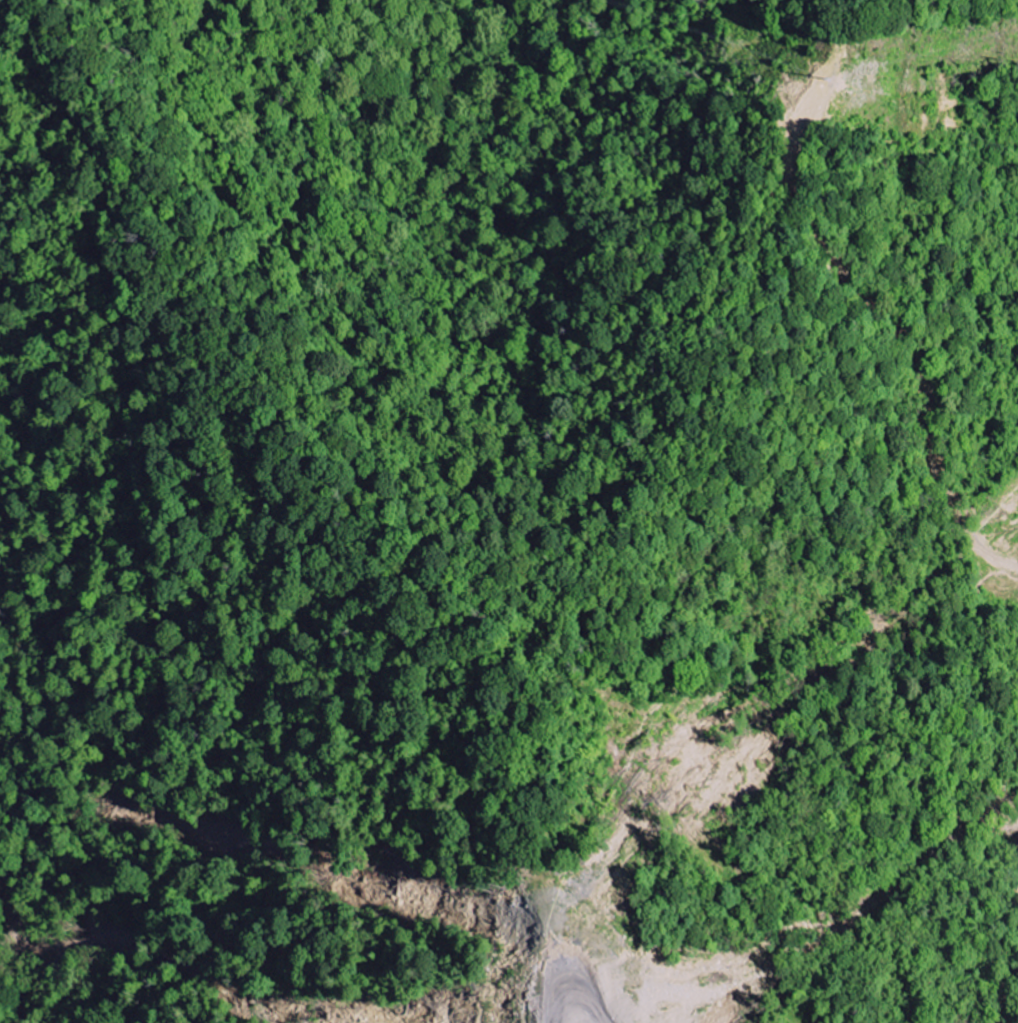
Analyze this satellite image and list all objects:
power tower: (835, 79)

